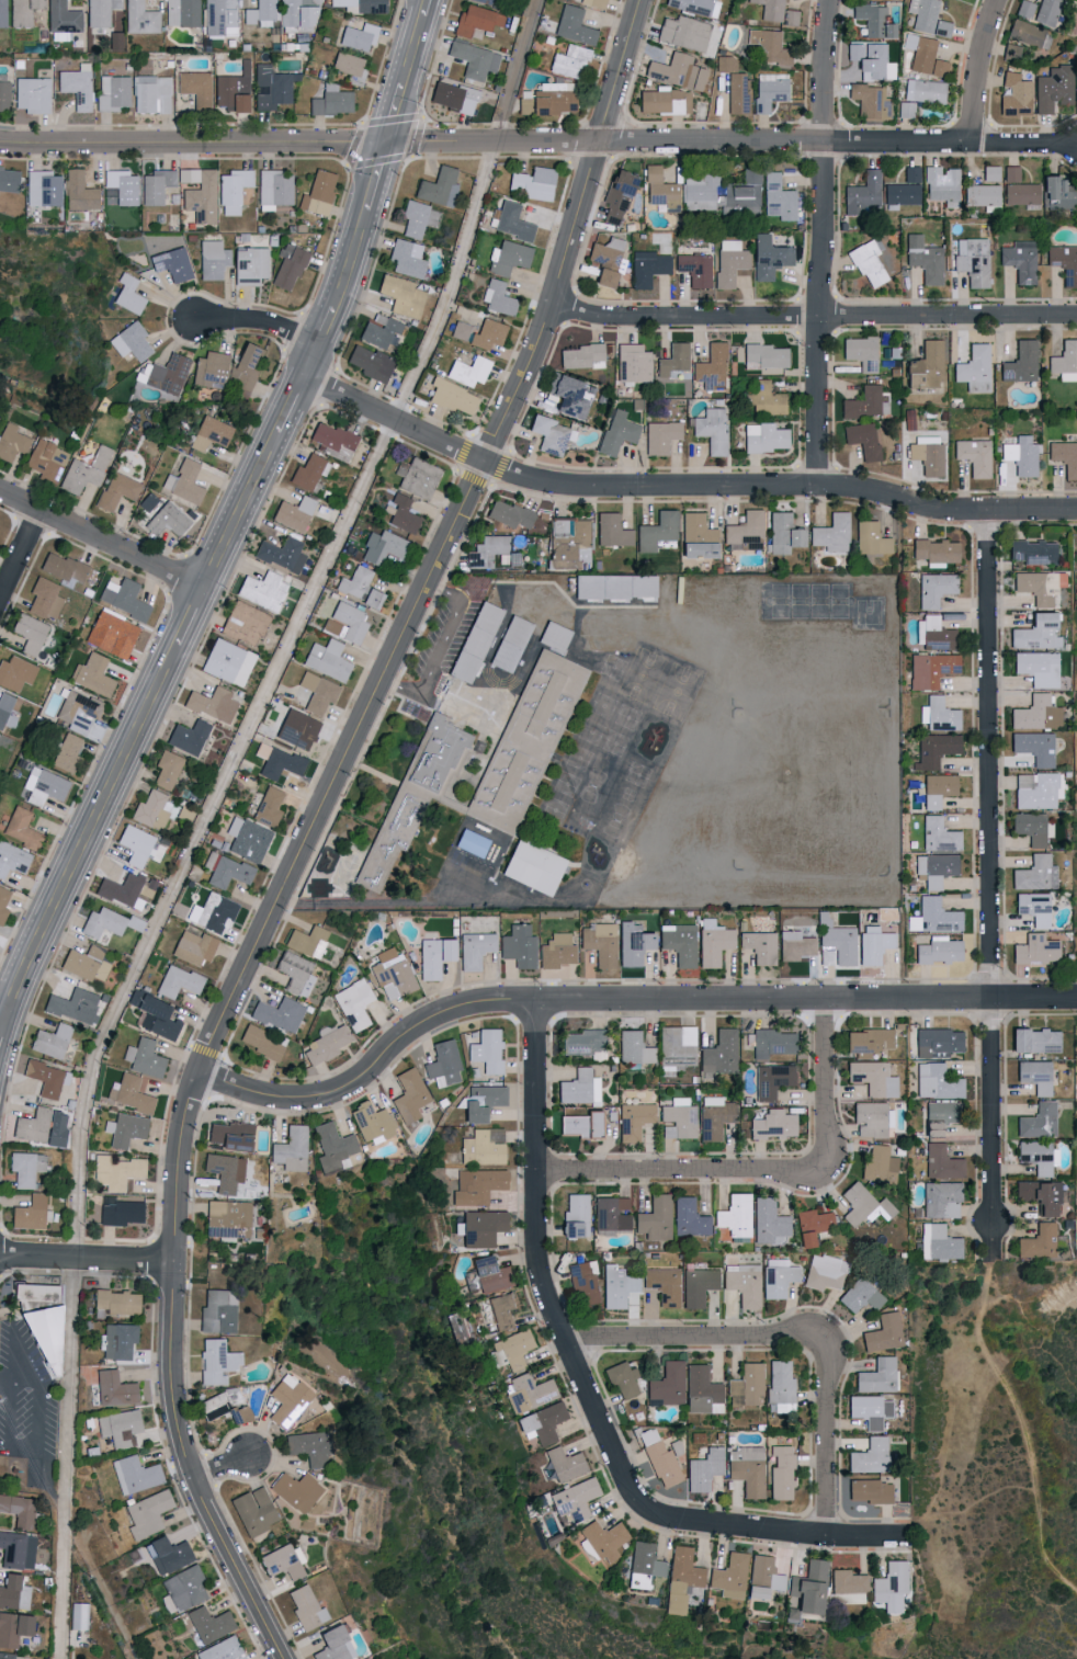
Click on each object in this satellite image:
building: (488, 1)
building: (594, 2)
building: (361, 5)
building: (695, 5)
building: (1024, 8)
building: (21, 11)
building: (100, 11)
building: (778, 11)
building: (1046, 11)
building: (181, 12)
building: (261, 12)
building: (2, 13)
building: (297, 14)
building: (923, 14)
building: (219, 16)
building: (140, 18)
building: (476, 20)
building: (873, 20)
building: (574, 25)
building: (942, 27)
building: (684, 32)
building: (358, 34)
building: (1029, 34)
building: (769, 46)
building: (925, 56)
building: (474, 59)
building: (869, 59)
building: (568, 61)
building: (350, 67)
road: (977, 68)
road: (403, 69)
building: (676, 70)
building: (76, 84)
building: (272, 87)
building: (195, 88)
building: (1053, 88)
building: (233, 89)
building: (771, 89)
building: (927, 91)
building: (113, 92)
building: (738, 92)
building: (32, 93)
building: (151, 93)
building: (1014, 94)
building: (3, 95)
building: (453, 96)
building: (331, 100)
building: (665, 100)
building: (546, 101)
building: (870, 101)
building: (1076, 104)
building: (906, 109)
road: (730, 138)
traffic signals: (385, 139)
road: (192, 141)
building: (990, 172)
building: (8, 179)
building: (531, 183)
building: (156, 185)
building: (942, 185)
building: (438, 186)
building: (42, 188)
building: (125, 188)
building: (1019, 188)
building: (273, 189)
building: (904, 189)
building: (233, 190)
building: (661, 190)
building: (78, 191)
building: (319, 192)
building: (700, 192)
building: (1057, 192)
building: (862, 193)
building: (744, 194)
building: (980, 195)
building: (201, 197)
building: (616, 197)
building: (779, 197)
building: (418, 218)
building: (512, 221)
road: (820, 245)
building: (605, 252)
building: (510, 257)
building: (769, 257)
building: (406, 258)
building: (212, 259)
building: (925, 259)
building: (973, 260)
building: (1020, 260)
building: (729, 261)
building: (868, 261)
building: (1064, 262)
building: (172, 263)
building: (248, 265)
building: (648, 268)
building: (695, 269)
building: (288, 270)
building: (603, 277)
building: (127, 294)
building: (401, 295)
building: (497, 297)
road: (814, 315)
road: (258, 320)
building: (381, 331)
building: (479, 332)
building: (129, 341)
building: (860, 351)
building: (764, 355)
building: (673, 359)
building: (1065, 361)
building: (1020, 362)
building: (370, 363)
building: (632, 363)
building: (925, 367)
building: (211, 368)
building: (974, 368)
building: (242, 370)
building: (467, 370)
building: (167, 374)
building: (451, 396)
building: (569, 396)
building: (766, 398)
building: (865, 402)
building: (712, 430)
building: (616, 432)
building: (209, 433)
building: (548, 434)
building: (660, 436)
building: (764, 436)
building: (332, 439)
building: (862, 439)
building: (12, 442)
building: (928, 454)
building: (1021, 455)
building: (974, 456)
building: (1065, 457)
building: (47, 459)
building: (86, 470)
building: (308, 471)
building: (418, 478)
building: (183, 481)
road: (678, 488)
building: (117, 490)
building: (148, 501)
building: (294, 513)
building: (400, 513)
building: (509, 513)
building: (168, 520)
building: (696, 527)
building: (611, 530)
building: (656, 531)
building: (783, 533)
building: (832, 533)
road: (101, 537)
building: (871, 538)
building: (569, 541)
building: (494, 544)
building: (382, 547)
building: (985, 547)
building: (1031, 547)
building: (699, 549)
road: (20, 550)
building: (934, 550)
building: (479, 559)
building: (61, 567)
building: (1038, 586)
building: (359, 587)
building: (609, 588)
building: (934, 589)
road: (199, 590)
building: (262, 590)
building: (718, 596)
building: (123, 598)
building: (44, 599)
building: (349, 621)
building: (243, 623)
building: (331, 626)
building: (29, 633)
building: (936, 633)
building: (111, 634)
building: (1034, 634)
building: (560, 637)
building: (481, 644)
building: (518, 645)
parking lot: (440, 649)
road: (444, 651)
building: (326, 659)
building: (227, 661)
building: (1036, 668)
building: (931, 669)
building: (15, 673)
building: (92, 674)
building: (317, 692)
building: (212, 704)
building: (4, 706)
building: (1035, 713)
building: (938, 715)
building: (296, 729)
building: (189, 737)
building: (532, 743)
building: (1034, 747)
building: (261, 750)
building: (934, 750)
building: (66, 753)
building: (280, 763)
building: (168, 769)
building: (43, 786)
building: (938, 789)
building: (1036, 791)
building: (420, 797)
building: (268, 806)
road: (207, 809)
building: (152, 810)
road: (310, 821)
building: (21, 828)
building: (1032, 828)
building: (939, 834)
building: (247, 839)
building: (479, 842)
building: (139, 845)
building: (12, 859)
building: (532, 866)
building: (936, 868)
road: (986, 871)
building: (229, 872)
building: (1035, 873)
building: (122, 889)
building: (3, 901)
road: (372, 902)
building: (1033, 908)
building: (212, 912)
building: (939, 914)
building: (102, 923)
building: (307, 941)
building: (713, 942)
building: (599, 943)
building: (632, 943)
building: (680, 944)
building: (795, 944)
building: (840, 944)
building: (873, 944)
building: (518, 946)
building: (759, 946)
building: (194, 947)
building: (475, 950)
building: (1035, 950)
building: (556, 951)
building: (939, 951)
building: (433, 957)
building: (84, 963)
building: (294, 973)
building: (392, 974)
building: (178, 981)
road: (620, 997)
building: (353, 1003)
building: (73, 1004)
building: (279, 1014)
building: (154, 1015)
road: (2, 1020)
building: (869, 1038)
building: (50, 1039)
building: (1034, 1039)
building: (262, 1041)
building: (586, 1042)
building: (772, 1042)
building: (938, 1042)
building: (325, 1045)
building: (676, 1047)
building: (634, 1048)
building: (486, 1049)
building: (721, 1050)
building: (144, 1057)
building: (443, 1063)
road: (825, 1075)
building: (1034, 1075)
building: (46, 1077)
building: (873, 1077)
building: (772, 1079)
building: (938, 1081)
building: (579, 1087)
building: (132, 1093)
building: (409, 1094)
building: (483, 1101)
building: (942, 1110)
building: (715, 1116)
building: (679, 1117)
building: (871, 1117)
building: (634, 1120)
building: (1038, 1121)
building: (372, 1123)
building: (34, 1124)
building: (580, 1124)
building: (773, 1124)
building: (932, 1126)
building: (125, 1128)
building: (228, 1134)
building: (484, 1146)
building: (332, 1147)
building: (291, 1148)
building: (1036, 1155)
building: (941, 1161)
building: (878, 1163)
building: (25, 1167)
building: (225, 1170)
building: (116, 1171)
road: (687, 1173)
building: (477, 1185)
building: (1040, 1194)
building: (941, 1198)
building: (862, 1204)
building: (120, 1211)
building: (29, 1212)
building: (611, 1213)
building: (735, 1214)
building: (575, 1215)
building: (227, 1217)
building: (655, 1217)
building: (689, 1217)
building: (768, 1220)
building: (812, 1224)
building: (480, 1227)
building: (939, 1241)
building: (1040, 1241)
road: (86, 1257)
building: (488, 1274)
road: (540, 1276)
building: (778, 1276)
building: (585, 1280)
building: (742, 1283)
building: (665, 1284)
building: (616, 1285)
building: (699, 1285)
building: (860, 1295)
building: (116, 1300)
building: (217, 1309)
building: (498, 1309)
building: (37, 1321)
building: (883, 1332)
building: (118, 1340)
road: (703, 1340)
building: (510, 1349)
building: (216, 1360)
building: (877, 1375)
building: (623, 1378)
road: (29, 1383)
building: (668, 1384)
building: (746, 1385)
building: (781, 1386)
building: (114, 1388)
building: (703, 1390)
building: (526, 1391)
building: (287, 1399)
building: (222, 1408)
building: (869, 1409)
road: (1019, 1411)
building: (541, 1422)
building: (118, 1427)
road: (42, 1443)
building: (674, 1445)
building: (306, 1446)
road: (828, 1451)
building: (869, 1456)
building: (660, 1459)
road: (220, 1464)
building: (562, 1464)
building: (704, 1468)
building: (748, 1469)
building: (782, 1473)
building: (135, 1474)
building: (864, 1489)
building: (296, 1490)
building: (574, 1498)
building: (18, 1509)
building: (254, 1510)
building: (146, 1513)
road: (784, 1533)
building: (16, 1549)
building: (167, 1554)
building: (282, 1560)
building: (644, 1565)
building: (764, 1571)
building: (729, 1576)
building: (681, 1578)
building: (807, 1586)
building: (889, 1586)
building: (184, 1587)
building: (847, 1587)
building: (755, 1590)
building: (13, 1591)
building: (305, 1606)
building: (208, 1623)
building: (13, 1627)
building: (332, 1644)
building: (220, 1649)
building: (10, 1656)

